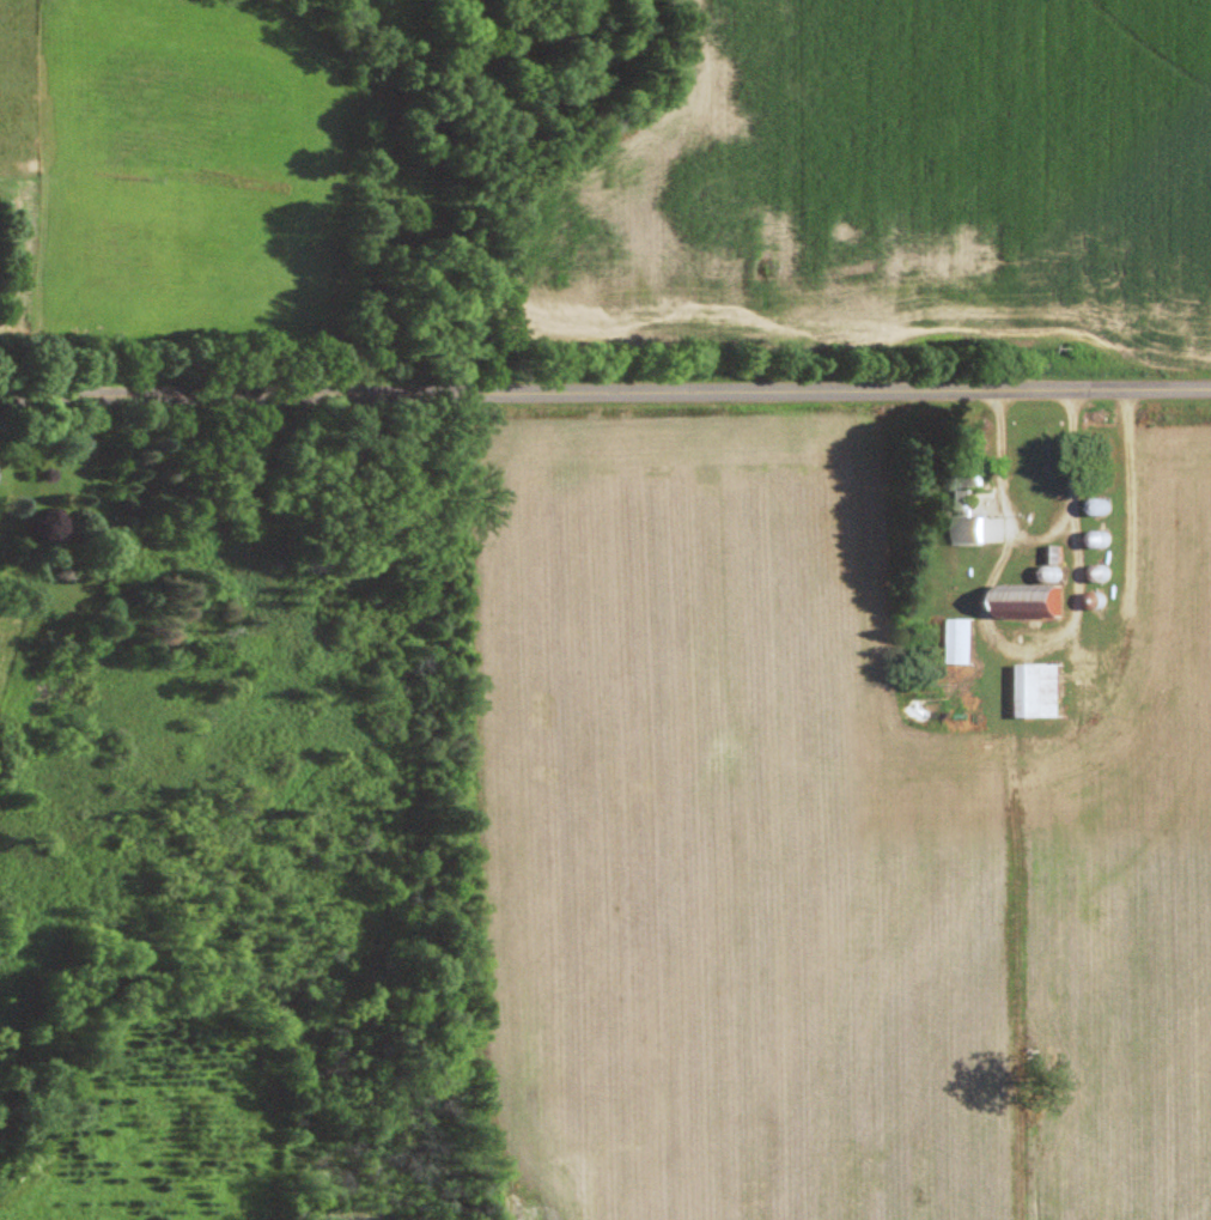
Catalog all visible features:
road: (605, 394)
building: (981, 533)
building: (1037, 603)
building: (962, 644)
building: (1045, 696)

